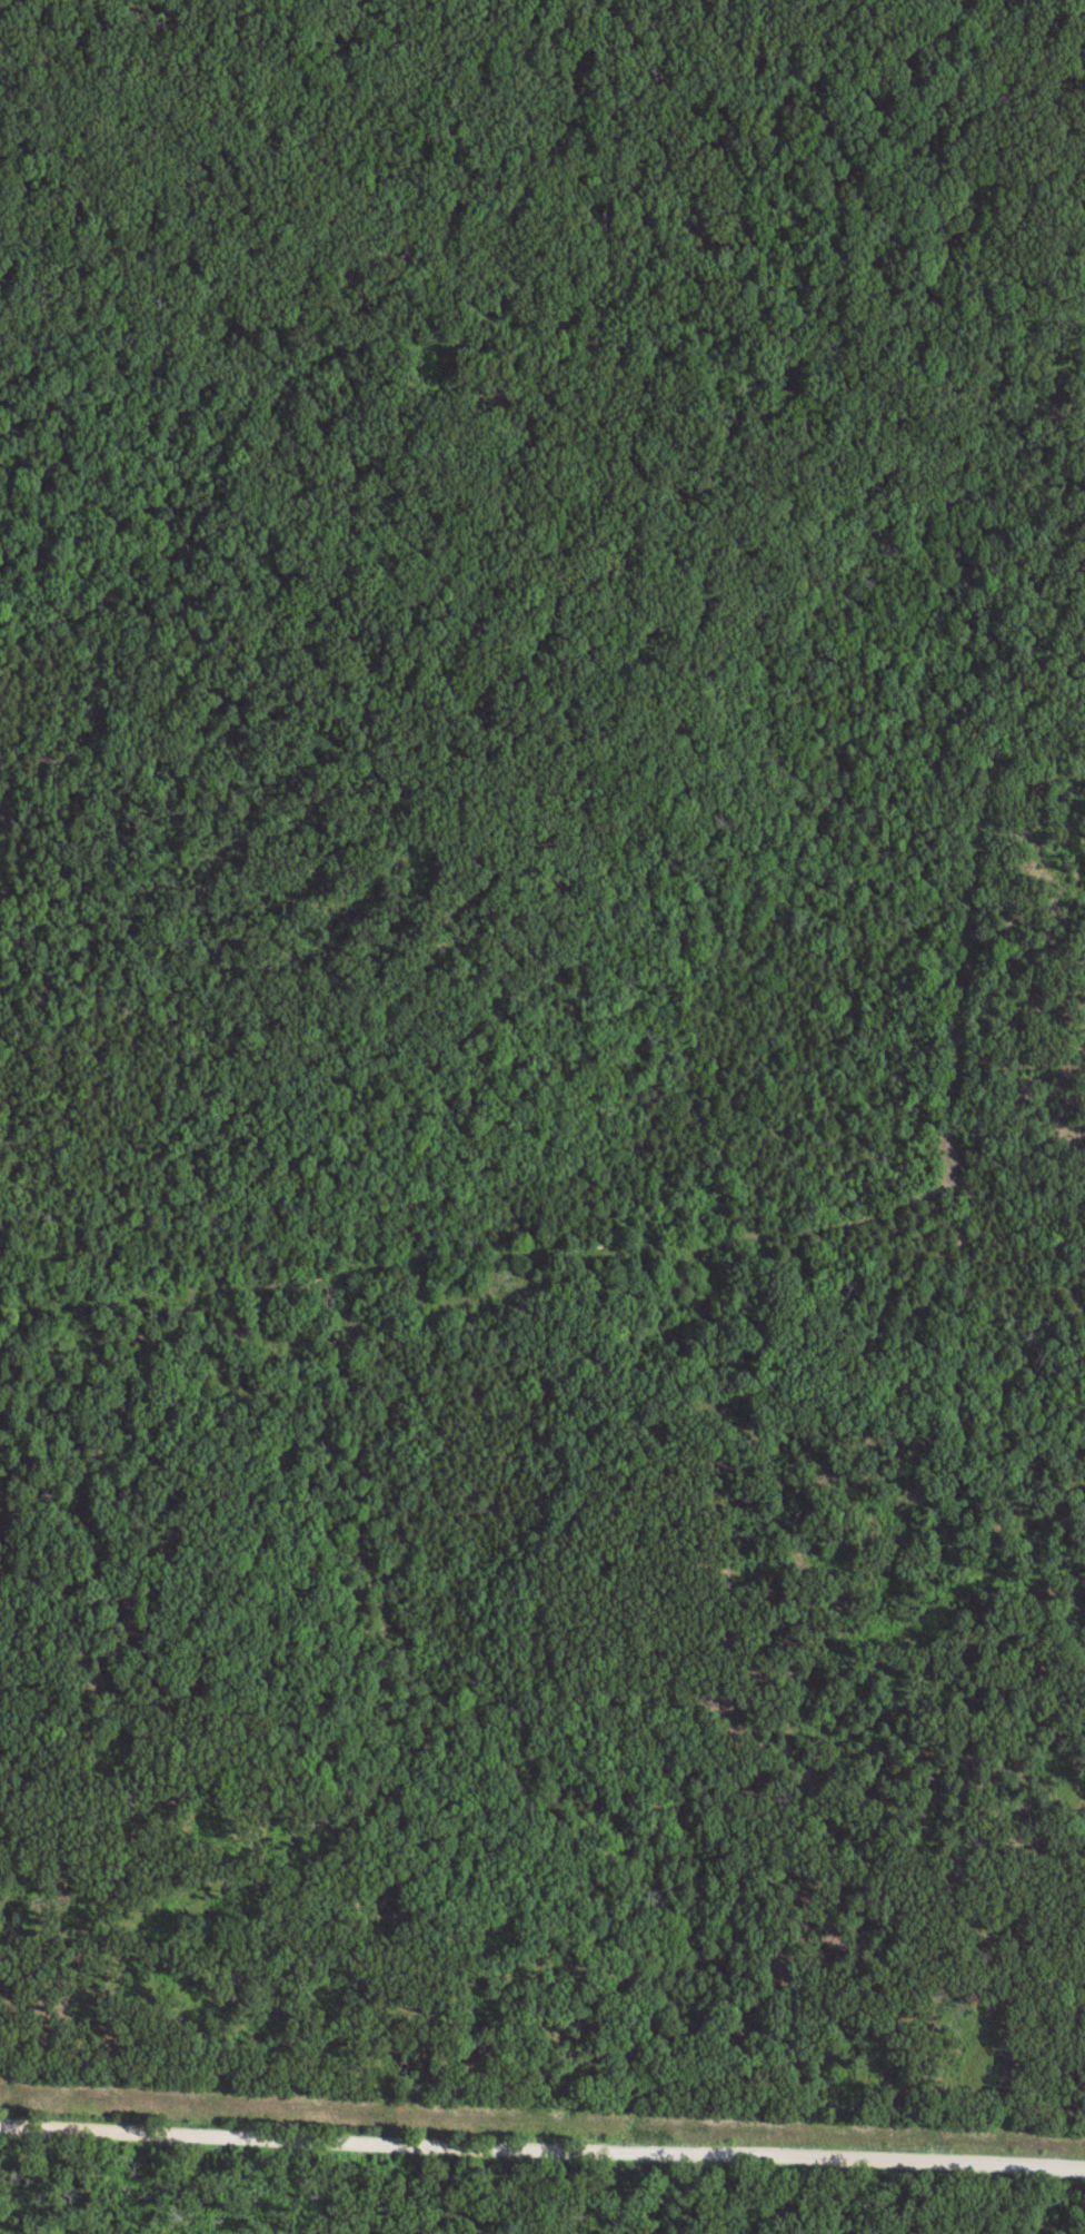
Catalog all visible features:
road: (541, 2146)
road: (730, 2193)

